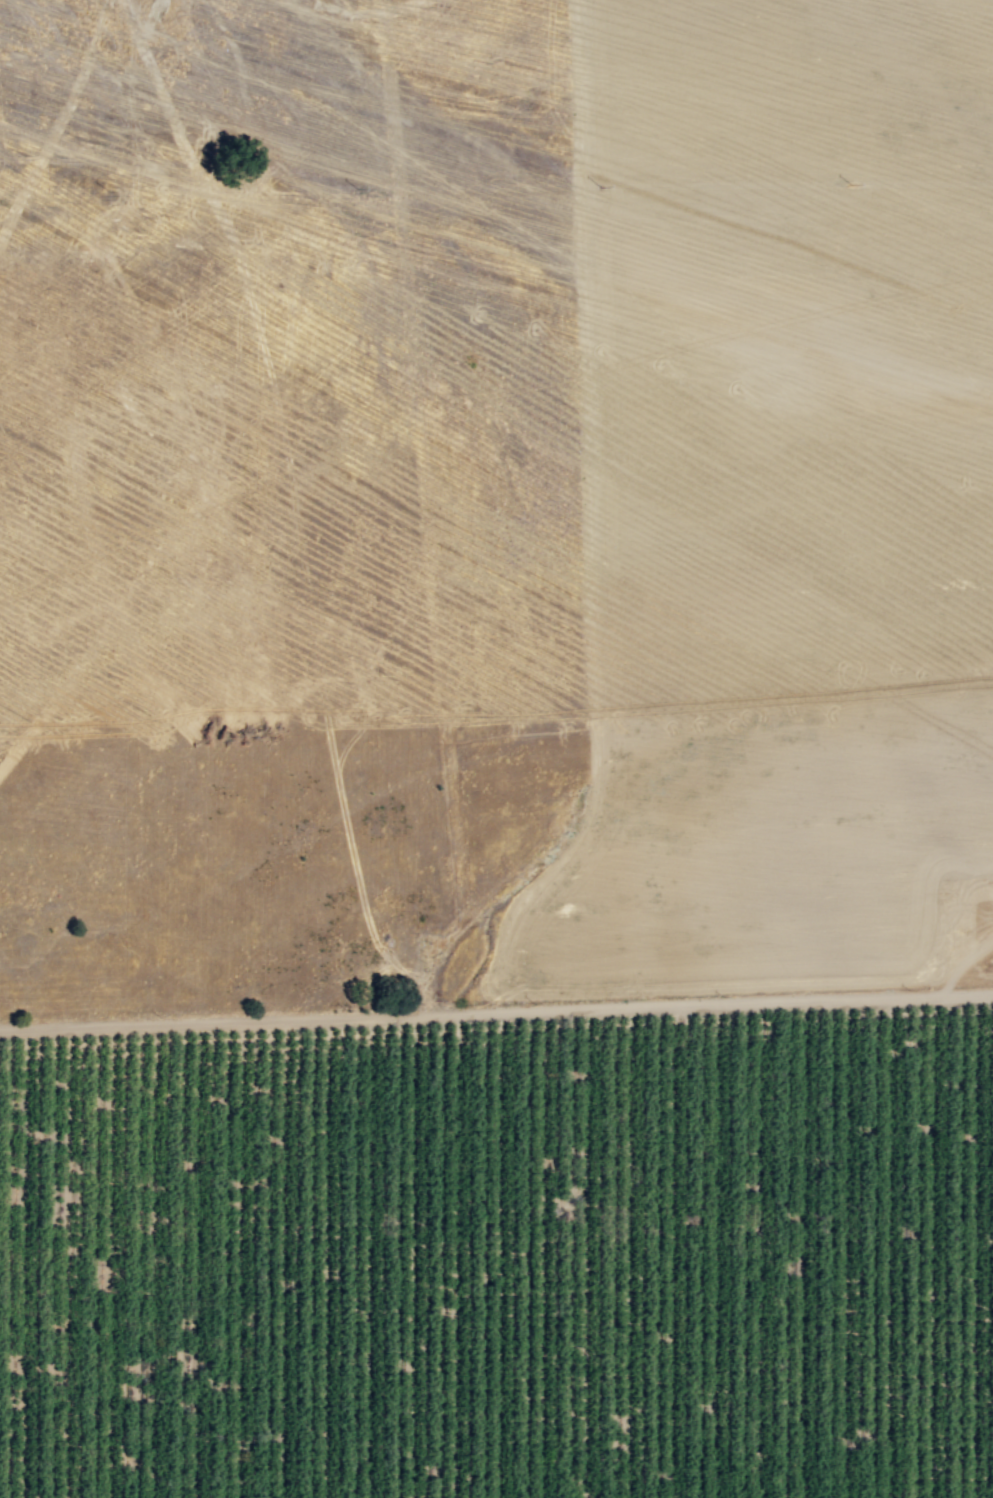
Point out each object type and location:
road: (496, 1012)

